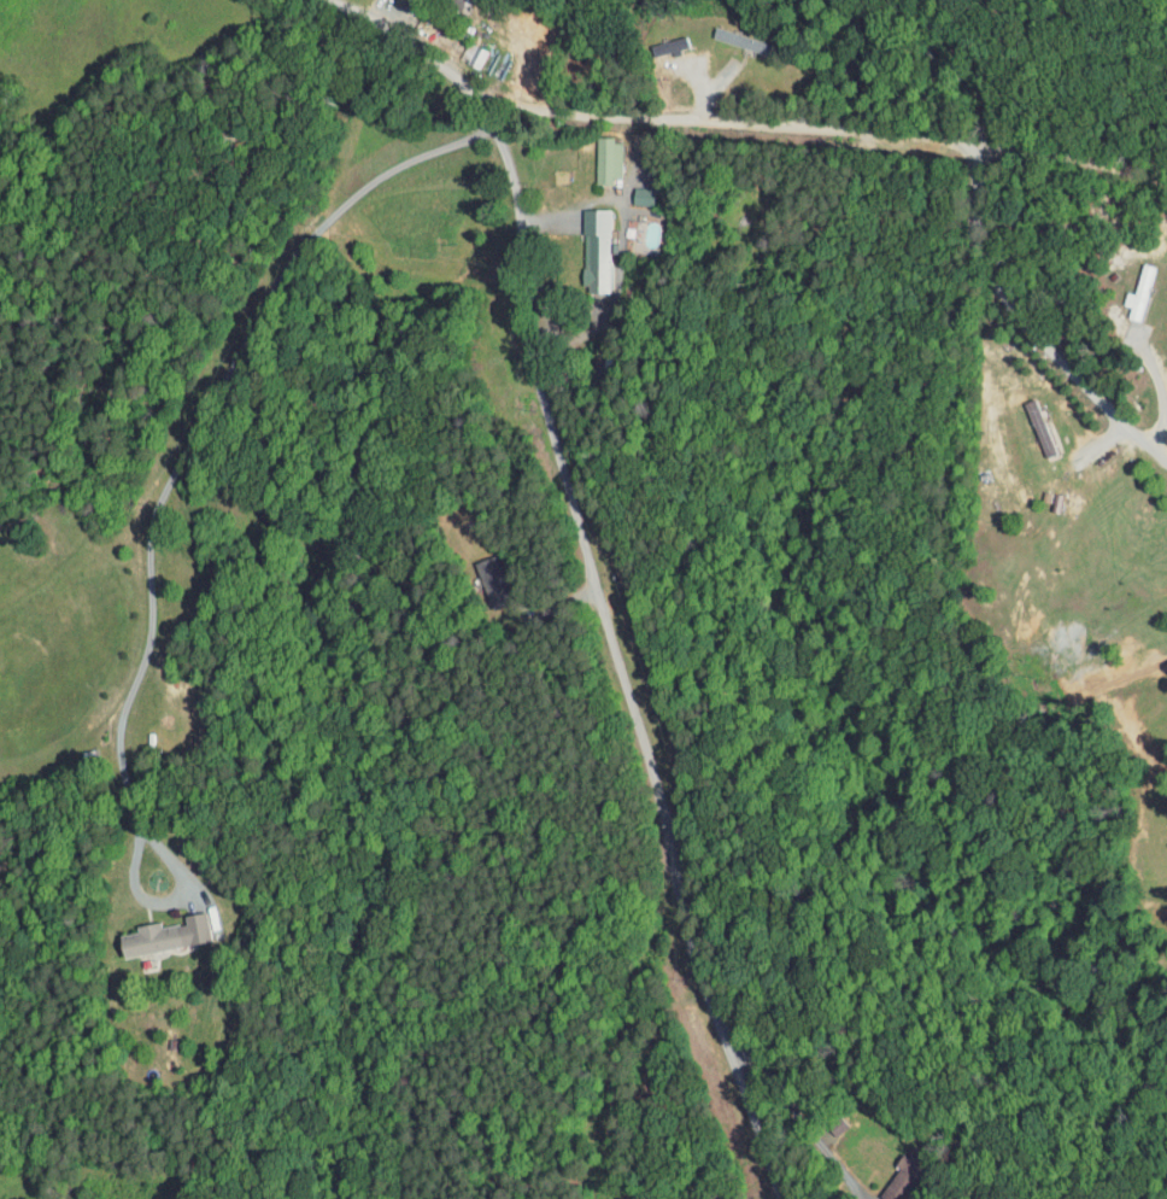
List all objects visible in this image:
building: (446, 2)
building: (732, 36)
building: (655, 40)
building: (459, 49)
road: (804, 124)
road: (1031, 150)
building: (593, 153)
building: (627, 189)
road: (551, 204)
road: (796, 207)
building: (581, 241)
building: (1125, 286)
road: (1159, 384)
building: (1025, 421)
road: (158, 508)
building: (479, 575)
road: (615, 666)
building: (148, 928)
road: (798, 1113)
building: (886, 1172)

